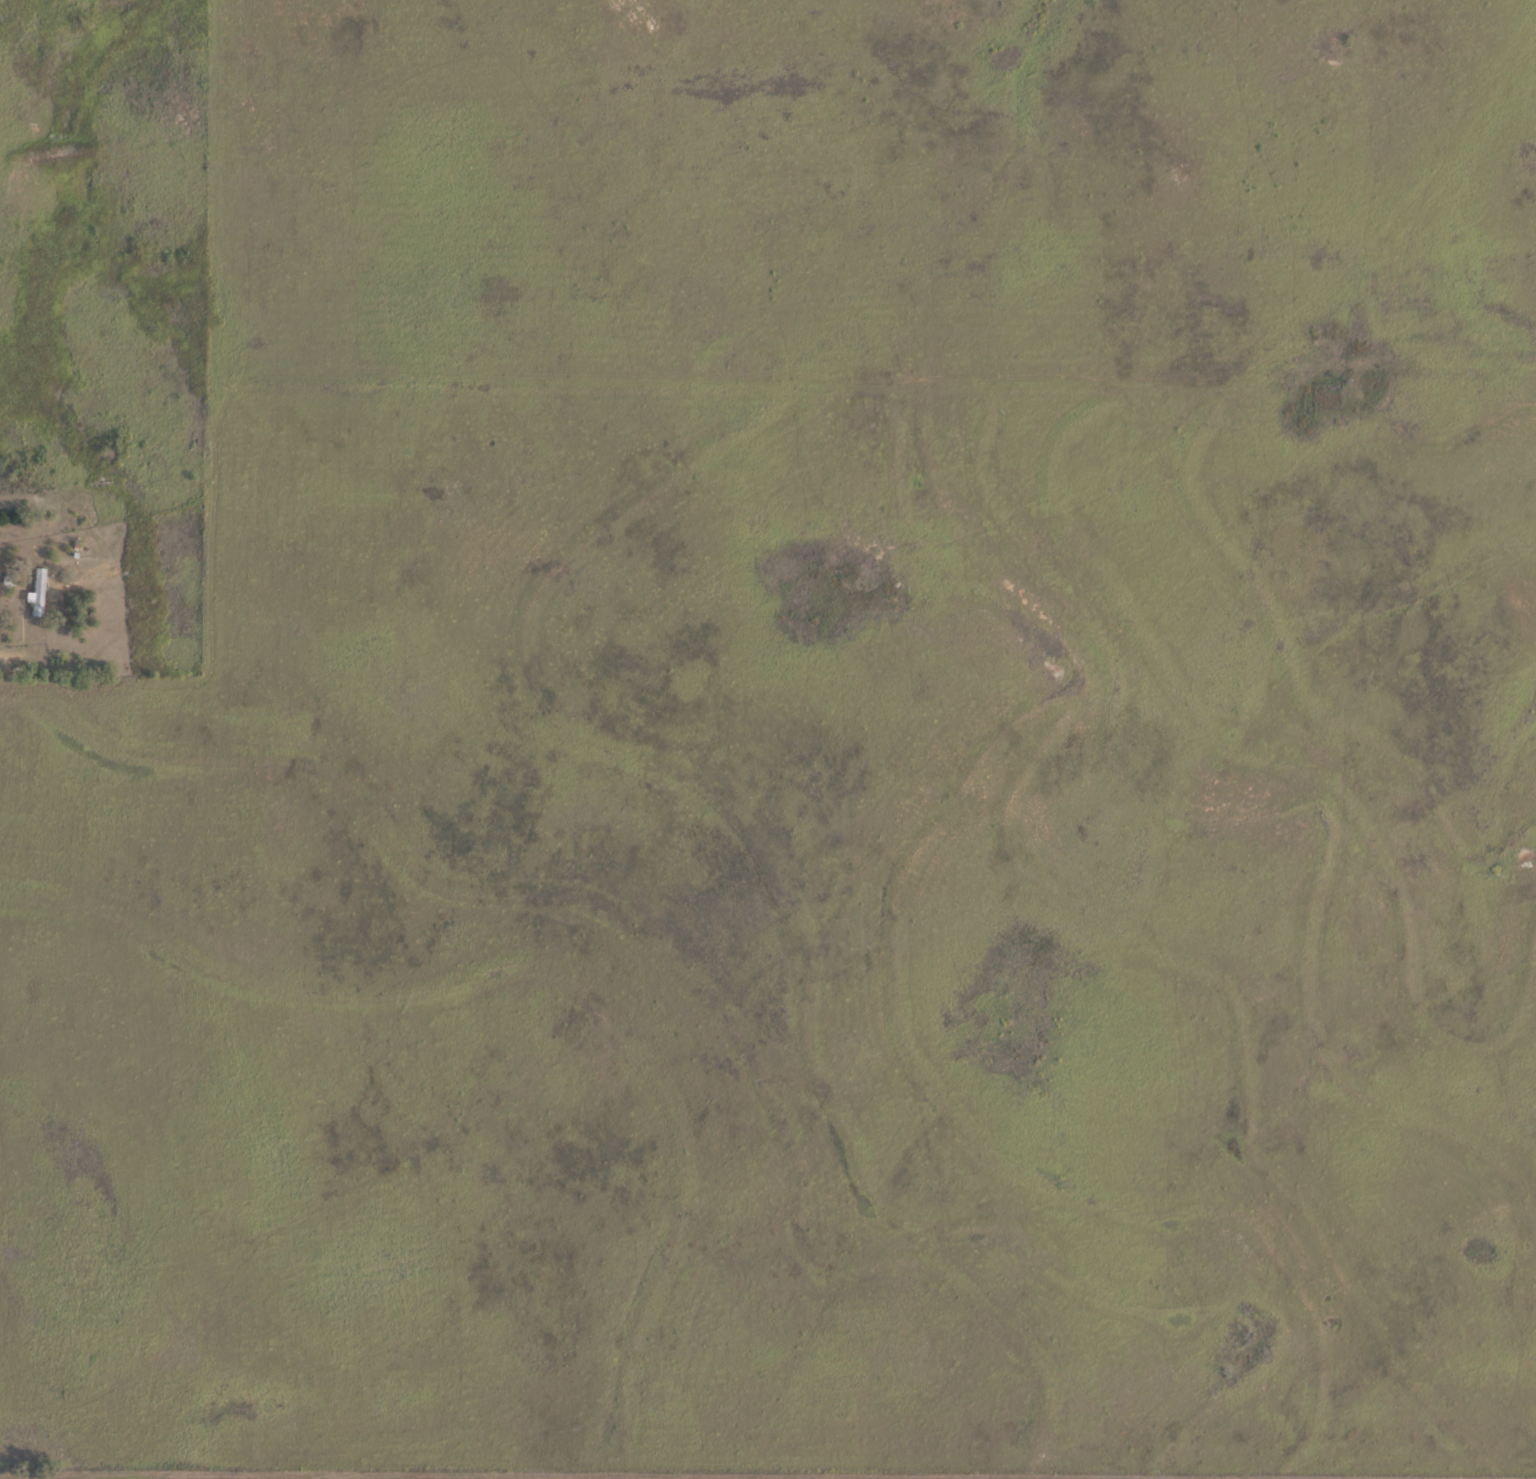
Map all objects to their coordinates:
building: (39, 593)

